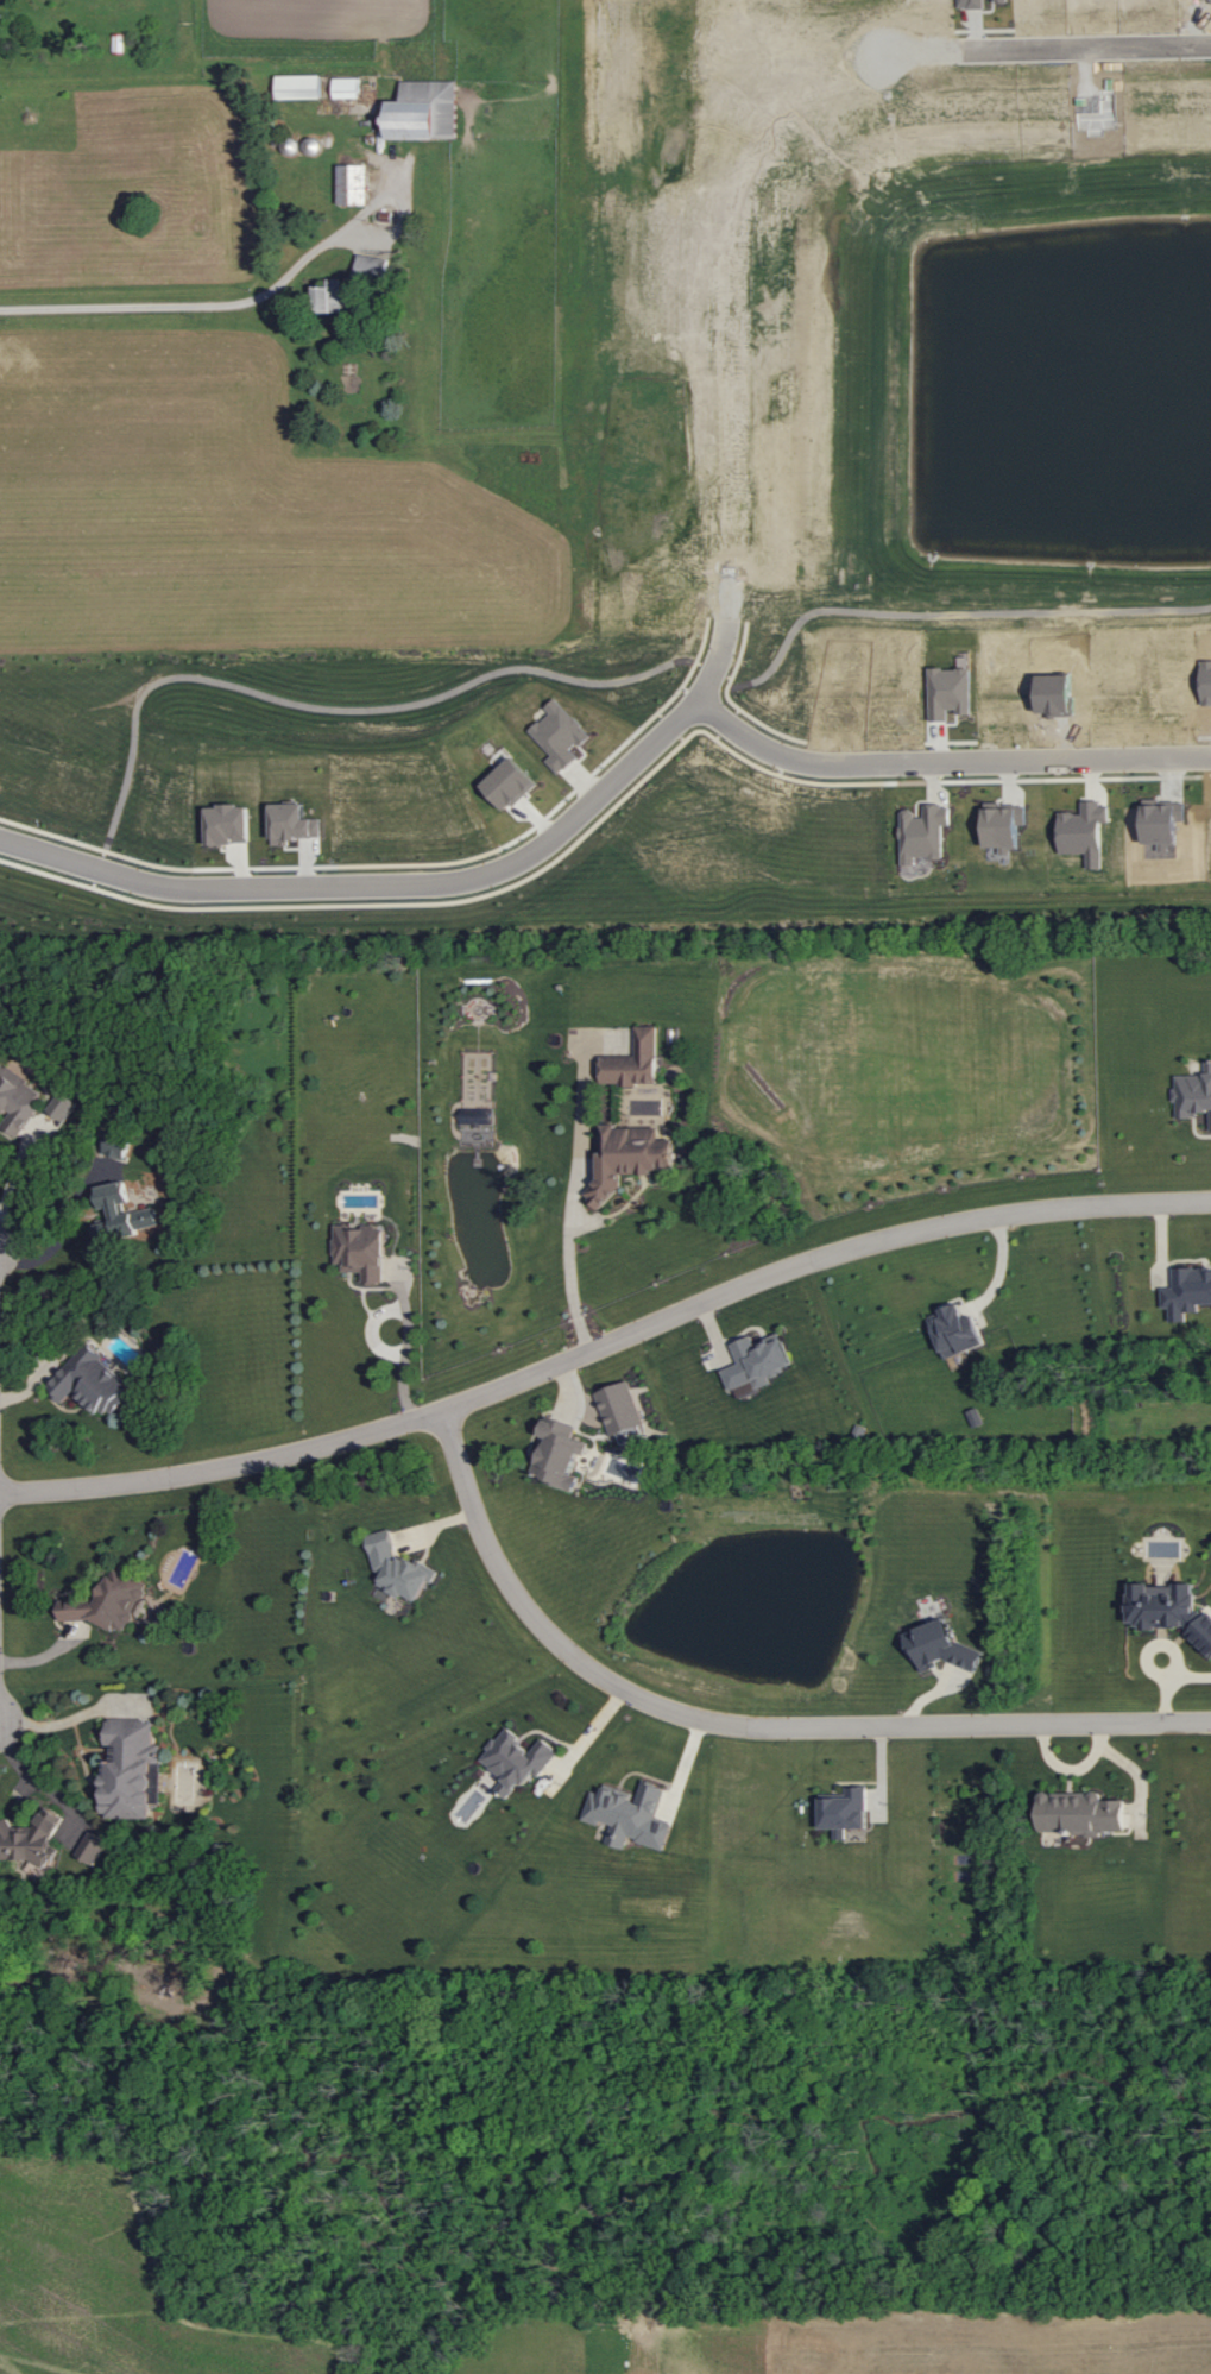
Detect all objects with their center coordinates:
building: (298, 86)
building: (347, 87)
building: (424, 109)
road: (757, 156)
building: (353, 183)
building: (372, 266)
building: (333, 296)
road: (195, 304)
building: (950, 691)
road: (945, 760)
building: (510, 782)
building: (228, 824)
building: (295, 824)
building: (1004, 825)
building: (923, 832)
road: (406, 884)
building: (633, 1062)
building: (1193, 1092)
building: (17, 1100)
building: (63, 1106)
building: (116, 1145)
building: (629, 1157)
road: (14, 1170)
road: (573, 1211)
building: (121, 1213)
road: (57, 1238)
building: (361, 1249)
building: (1187, 1292)
building: (957, 1330)
road: (605, 1342)
road: (403, 1356)
building: (756, 1360)
building: (92, 1381)
building: (620, 1408)
building: (560, 1452)
building: (398, 1567)
building: (108, 1601)
building: (1162, 1604)
building: (1203, 1631)
building: (941, 1646)
road: (72, 1717)
road: (739, 1728)
building: (517, 1759)
building: (132, 1769)
building: (845, 1809)
building: (1080, 1812)
building: (631, 1814)
building: (31, 1838)
building: (93, 1847)

